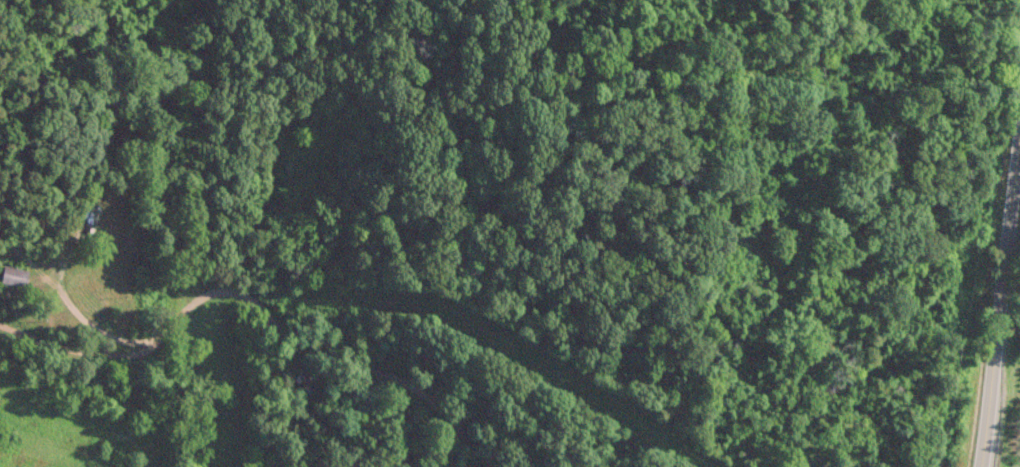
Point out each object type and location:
building: (15, 274)
road: (996, 290)
road: (239, 306)
road: (77, 324)
building: (301, 380)

